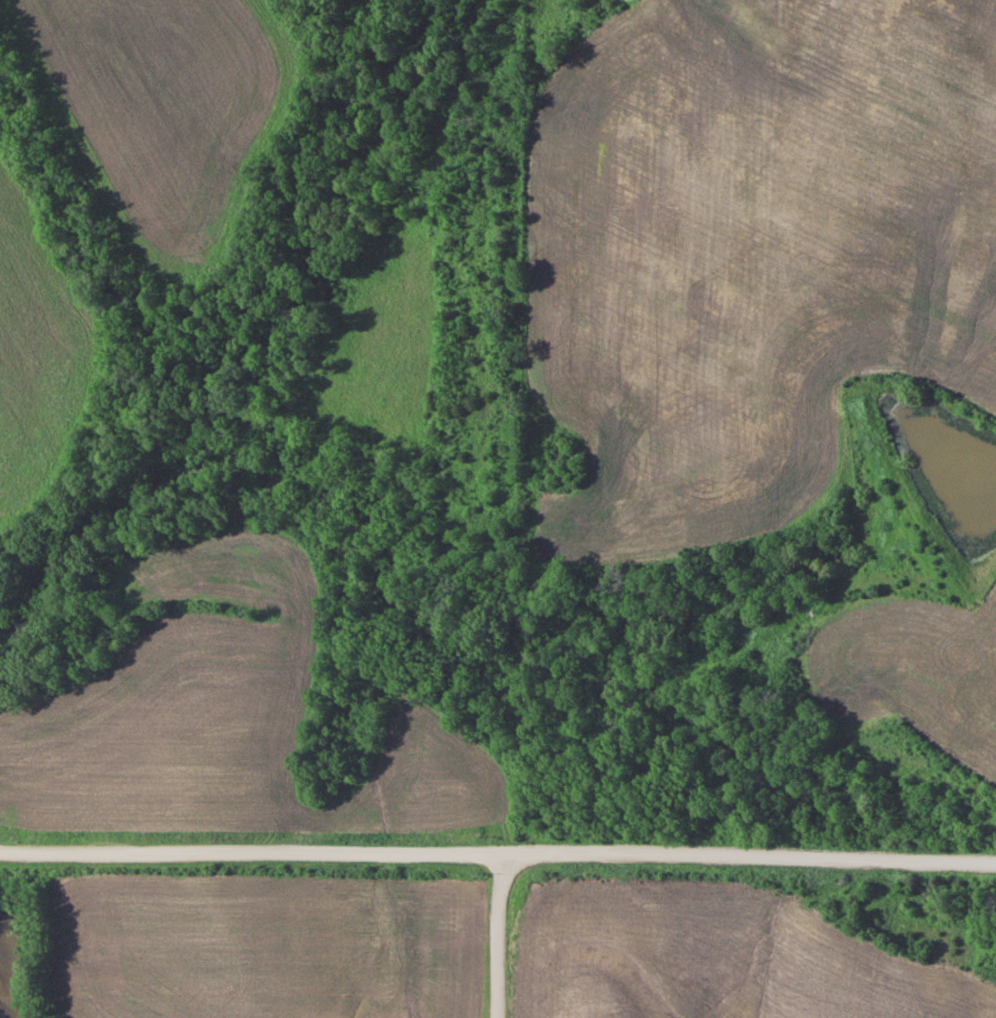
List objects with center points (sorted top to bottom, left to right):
road: (498, 848)
road: (501, 933)

